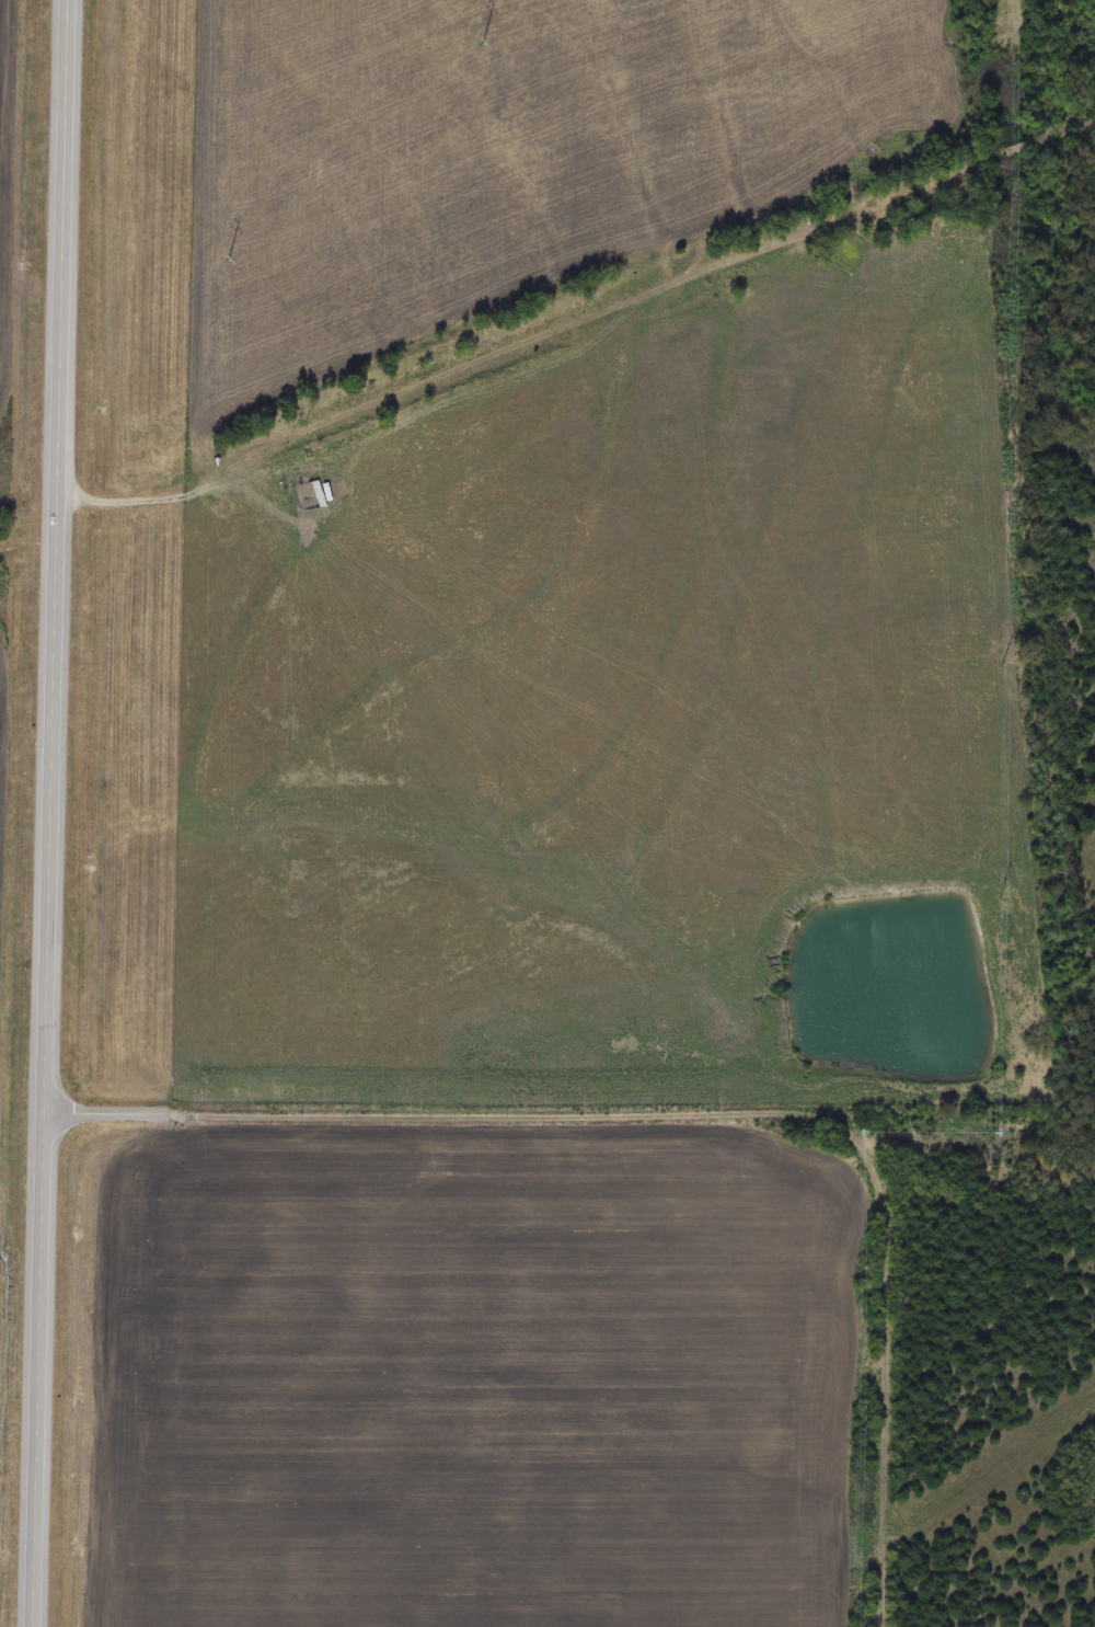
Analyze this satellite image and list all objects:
power tower: (469, 49)
power tower: (214, 265)
road: (149, 495)
road: (50, 813)
road: (698, 1120)

